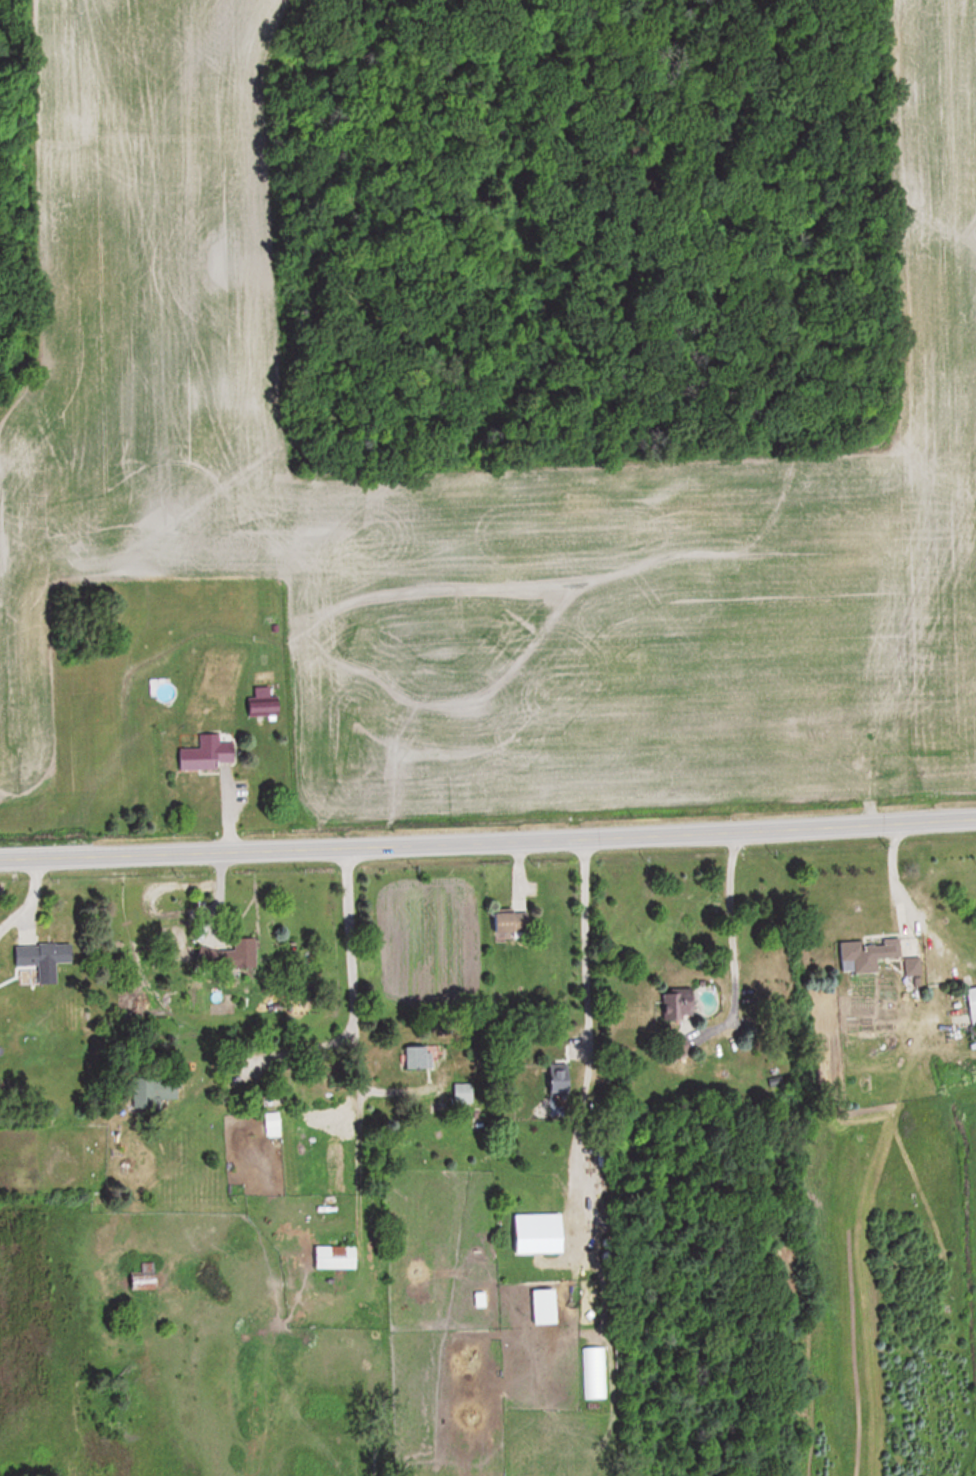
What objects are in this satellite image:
building: (262, 708)
building: (206, 754)
road: (488, 843)
building: (508, 922)
road: (733, 923)
road: (583, 943)
building: (867, 953)
building: (44, 954)
building: (230, 955)
road: (349, 995)
building: (973, 1000)
building: (416, 1057)
building: (559, 1078)
building: (158, 1090)
building: (273, 1124)
building: (540, 1234)
building: (336, 1257)
building: (147, 1277)

